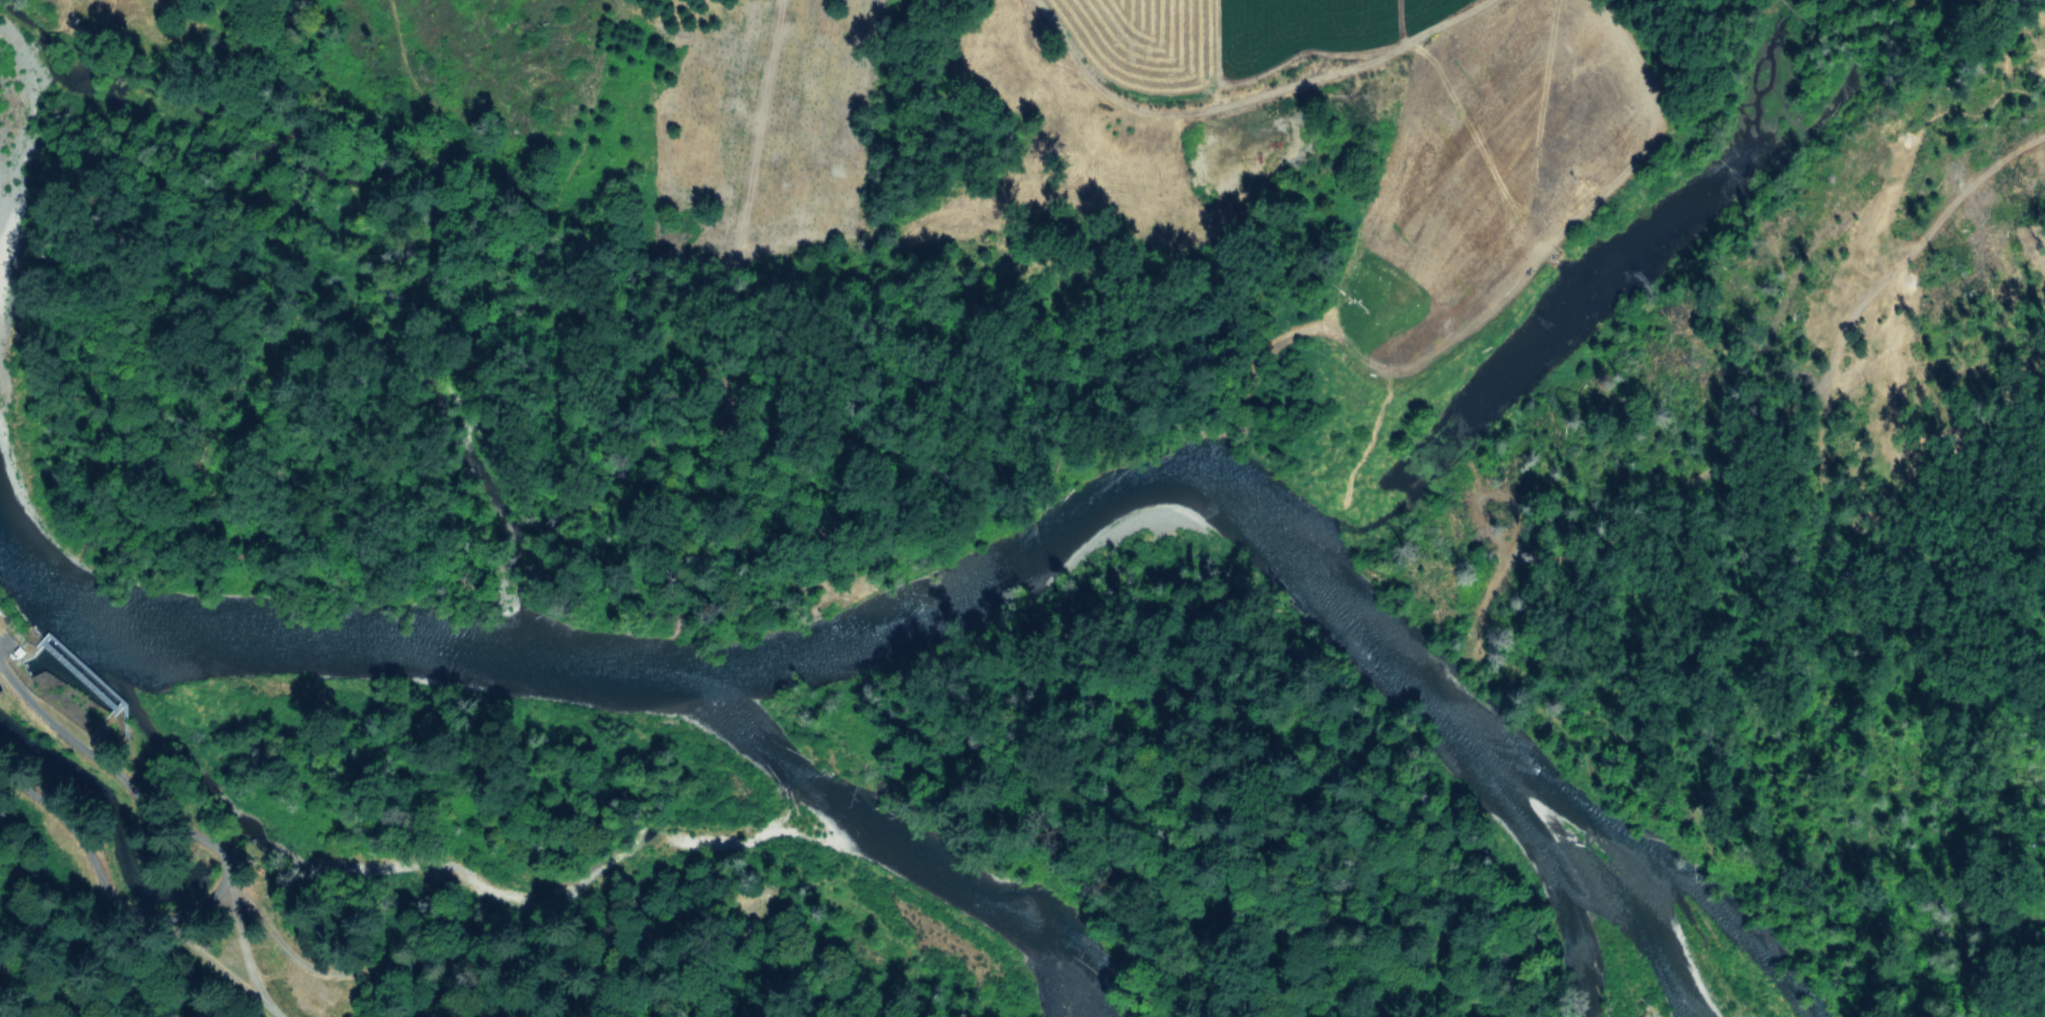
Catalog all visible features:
crop: (1275, 32)
road: (173, 821)
road: (122, 903)

